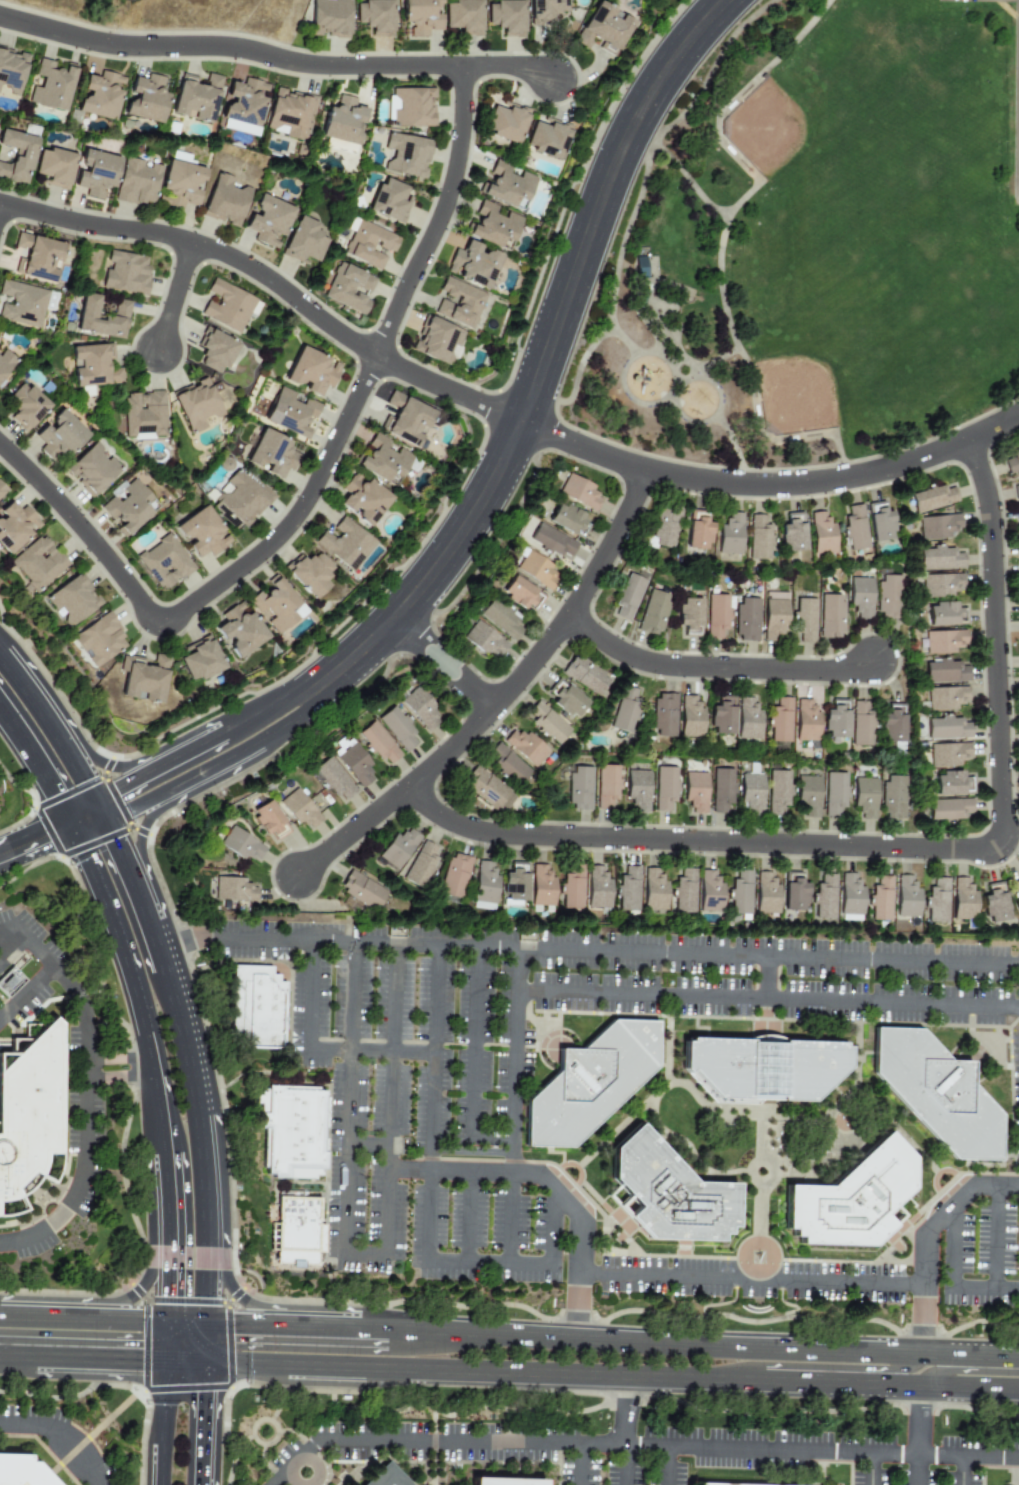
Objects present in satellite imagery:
building: (544, 11)
park: (184, 15)
building: (375, 16)
building: (421, 16)
building: (464, 17)
building: (507, 17)
building: (330, 18)
building: (603, 29)
road: (232, 49)
road: (510, 68)
building: (12, 70)
building: (52, 86)
building: (100, 95)
building: (196, 97)
building: (146, 99)
building: (244, 106)
building: (411, 107)
building: (291, 114)
building: (343, 121)
building: (506, 123)
building: (547, 138)
building: (339, 146)
building: (407, 155)
building: (17, 156)
building: (54, 168)
building: (96, 173)
building: (138, 182)
building: (182, 182)
building: (508, 186)
building: (225, 201)
building: (391, 201)
road: (1, 212)
building: (268, 221)
building: (494, 225)
building: (305, 240)
building: (370, 245)
building: (36, 257)
building: (473, 264)
park: (798, 266)
building: (126, 273)
road: (273, 280)
building: (349, 289)
road: (179, 299)
building: (458, 303)
building: (22, 304)
building: (226, 306)
building: (102, 318)
building: (439, 341)
building: (216, 350)
road: (542, 362)
building: (5, 363)
building: (94, 366)
building: (311, 371)
building: (200, 404)
building: (26, 407)
building: (291, 413)
building: (144, 415)
building: (405, 420)
building: (59, 437)
building: (271, 454)
building: (383, 461)
building: (1012, 461)
building: (92, 470)
road: (770, 484)
road: (317, 487)
building: (1016, 487)
building: (2, 490)
building: (579, 492)
building: (933, 497)
building: (363, 499)
building: (240, 500)
building: (129, 506)
building: (1017, 515)
building: (569, 520)
building: (881, 523)
building: (15, 526)
building: (938, 526)
building: (664, 527)
building: (854, 529)
building: (698, 532)
building: (823, 532)
building: (202, 533)
building: (793, 534)
building: (730, 535)
building: (759, 537)
building: (551, 540)
building: (345, 544)
building: (941, 558)
building: (38, 563)
building: (164, 563)
building: (537, 570)
building: (1018, 571)
building: (309, 574)
building: (940, 584)
building: (521, 595)
building: (626, 597)
building: (860, 597)
building: (888, 597)
building: (74, 600)
building: (277, 606)
building: (654, 612)
building: (945, 613)
building: (718, 614)
building: (689, 616)
building: (775, 616)
building: (831, 616)
building: (499, 618)
building: (747, 618)
building: (803, 618)
building: (239, 630)
building: (483, 639)
building: (100, 640)
building: (942, 641)
road: (551, 645)
building: (201, 660)
road: (442, 663)
road: (719, 669)
building: (944, 670)
building: (585, 674)
building: (144, 678)
road: (30, 694)
building: (945, 697)
building: (566, 699)
building: (419, 707)
building: (624, 710)
building: (664, 715)
building: (721, 716)
building: (691, 717)
building: (748, 719)
building: (835, 720)
building: (806, 721)
building: (549, 722)
building: (861, 722)
building: (780, 724)
building: (892, 727)
building: (946, 727)
building: (398, 728)
building: (376, 742)
road: (202, 744)
building: (525, 745)
building: (947, 753)
building: (354, 763)
building: (508, 764)
road: (37, 765)
road: (215, 765)
road: (116, 767)
road: (78, 768)
building: (332, 778)
building: (952, 782)
building: (608, 784)
building: (666, 786)
traffic signals: (120, 787)
building: (579, 787)
building: (485, 788)
building: (637, 790)
building: (722, 790)
building: (779, 790)
building: (696, 791)
building: (835, 791)
traffic signals: (52, 792)
building: (752, 792)
building: (808, 793)
building: (864, 797)
building: (892, 797)
building: (299, 809)
building: (946, 809)
road: (99, 810)
road: (82, 814)
building: (269, 819)
road: (85, 820)
road: (144, 825)
road: (357, 833)
traffic signals: (41, 836)
road: (34, 838)
traffic signals: (115, 844)
building: (241, 845)
building: (398, 848)
road: (907, 849)
road: (121, 858)
building: (421, 864)
building: (454, 874)
building: (514, 883)
building: (484, 887)
building: (1016, 887)
building: (230, 888)
building: (571, 888)
building: (541, 889)
building: (597, 889)
building: (627, 889)
building: (361, 890)
building: (654, 890)
building: (710, 891)
building: (683, 892)
building: (794, 892)
building: (739, 894)
building: (766, 894)
building: (851, 897)
building: (823, 898)
building: (906, 898)
building: (880, 899)
building: (964, 900)
building: (937, 901)
building: (994, 903)
road: (3, 928)
road: (159, 933)
road: (9, 943)
road: (594, 951)
road: (765, 977)
building: (10, 982)
road: (122, 982)
road: (27, 992)
road: (766, 998)
building: (261, 1004)
road: (318, 1048)
road: (471, 1061)
road: (88, 1069)
building: (761, 1069)
building: (590, 1079)
road: (86, 1086)
building: (936, 1091)
road: (206, 1096)
building: (29, 1107)
building: (297, 1127)
road: (367, 1142)
road: (512, 1153)
road: (452, 1171)
building: (667, 1187)
building: (849, 1194)
road: (427, 1197)
road: (510, 1215)
road: (469, 1218)
road: (161, 1228)
building: (300, 1228)
road: (926, 1238)
road: (997, 1238)
road: (5, 1242)
road: (149, 1254)
road: (362, 1255)
road: (217, 1270)
road: (751, 1281)
road: (952, 1281)
road: (240, 1290)
traffic signals: (162, 1293)
road: (80, 1307)
road: (188, 1311)
traffic signals: (240, 1313)
road: (617, 1330)
road: (160, 1342)
road: (214, 1344)
road: (949, 1366)
traffic signals: (137, 1373)
road: (890, 1374)
road: (509, 1378)
traffic signals: (212, 1404)
road: (626, 1411)
road: (920, 1422)
road: (100, 1429)
road: (157, 1429)
road: (211, 1430)
road: (60, 1434)
road: (439, 1441)
road: (580, 1443)
road: (644, 1445)
road: (44, 1447)
road: (822, 1451)
road: (304, 1455)
road: (624, 1464)
road: (868, 1469)
road: (918, 1470)
road: (961, 1470)
building: (20, 1471)
building: (390, 1477)
building: (513, 1481)
road: (284, 1483)
building: (708, 1484)

